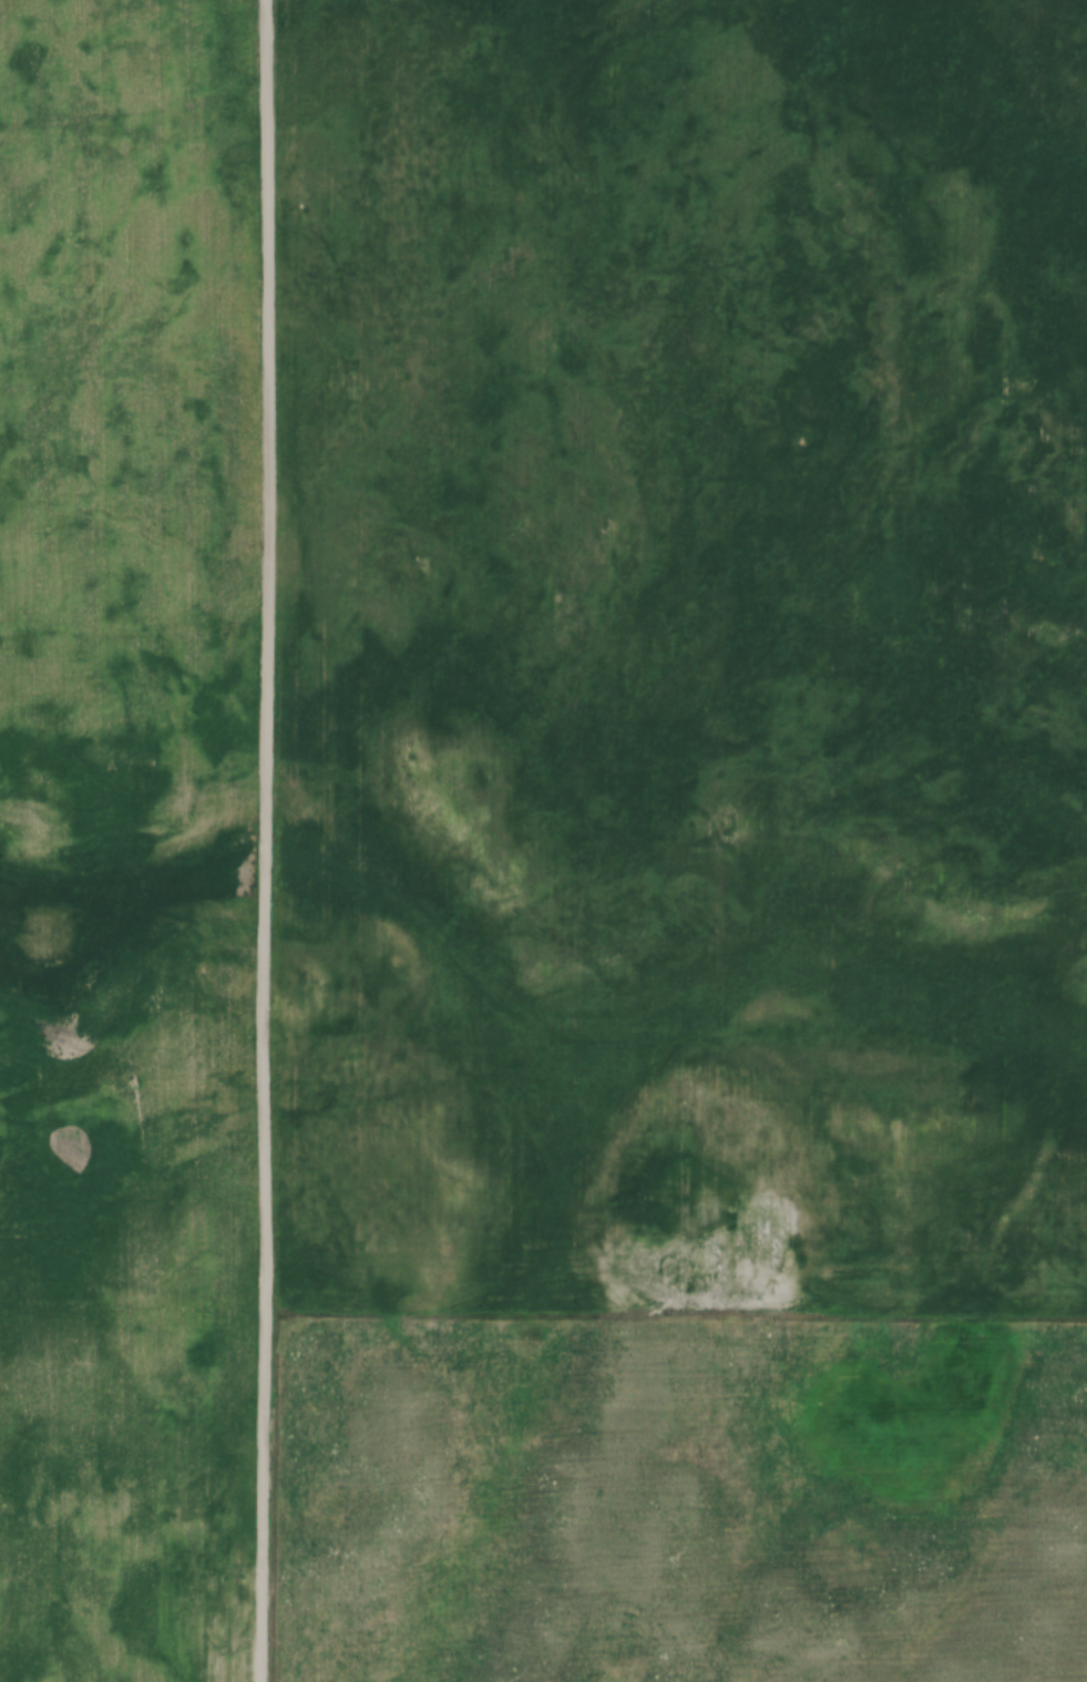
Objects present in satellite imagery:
road: (271, 841)
road: (134, 1305)

